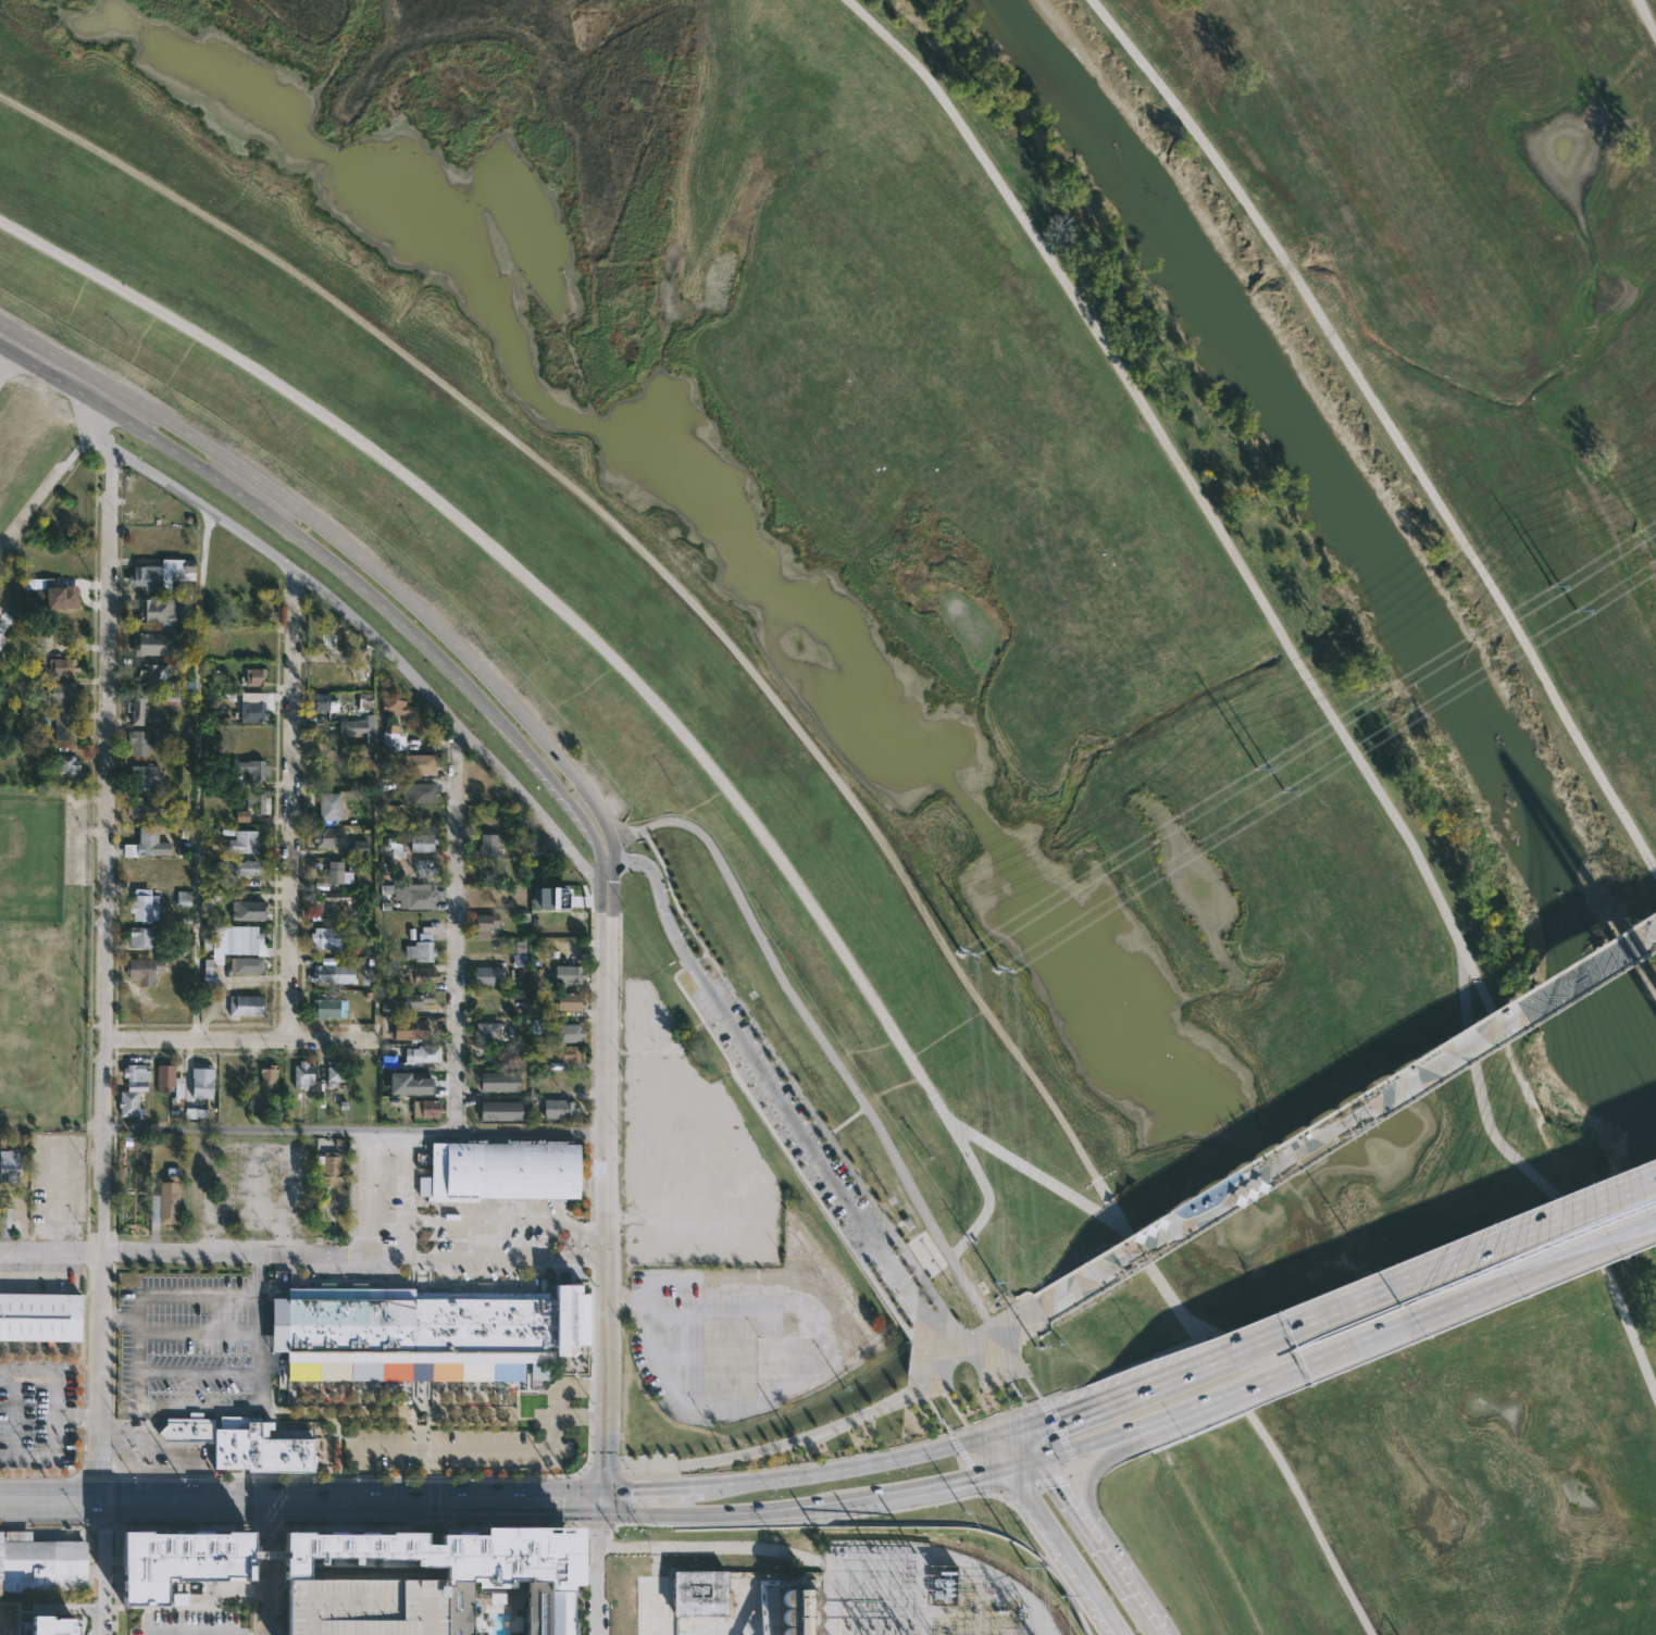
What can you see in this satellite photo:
road: (1644, 18)
road: (3, 342)
road: (108, 411)
road: (1383, 427)
road: (103, 439)
road: (47, 489)
road: (251, 490)
road: (241, 496)
road: (282, 499)
building: (140, 513)
river: (1341, 529)
road: (640, 550)
building: (161, 574)
road: (535, 584)
power tower: (1549, 586)
building: (62, 599)
power tower: (1570, 609)
building: (157, 610)
building: (2, 638)
park: (1047, 639)
building: (151, 644)
building: (254, 644)
road: (379, 644)
building: (61, 666)
road: (1302, 666)
building: (328, 673)
building: (153, 674)
building: (252, 676)
building: (61, 694)
building: (173, 697)
building: (316, 701)
building: (396, 703)
building: (135, 710)
building: (251, 711)
building: (61, 724)
building: (360, 726)
building: (171, 732)
building: (389, 736)
building: (139, 742)
road: (527, 750)
building: (63, 764)
building: (415, 764)
power tower: (1263, 766)
building: (250, 769)
road: (564, 770)
building: (142, 774)
road: (198, 775)
power tower: (1283, 788)
building: (420, 792)
building: (485, 794)
building: (256, 802)
road: (289, 803)
building: (328, 806)
building: (140, 808)
building: (242, 815)
building: (324, 837)
road: (602, 839)
building: (146, 840)
building: (241, 841)
building: (421, 841)
building: (488, 845)
building: (360, 848)
park: (29, 859)
building: (425, 866)
building: (234, 868)
building: (140, 871)
building: (337, 872)
road: (606, 874)
road: (455, 885)
building: (419, 896)
building: (550, 897)
building: (326, 899)
building: (142, 906)
building: (246, 910)
building: (483, 924)
building: (324, 937)
building: (141, 939)
building: (237, 941)
building: (420, 948)
park: (42, 956)
power tower: (962, 956)
building: (245, 964)
power tower: (998, 965)
building: (147, 969)
building: (346, 970)
road: (105, 972)
building: (568, 974)
building: (484, 975)
building: (420, 976)
building: (407, 1000)
building: (568, 1001)
building: (245, 1006)
building: (324, 1008)
building: (537, 1026)
building: (407, 1029)
building: (485, 1032)
road: (814, 1032)
building: (569, 1033)
road: (237, 1038)
road: (739, 1041)
building: (571, 1054)
building: (418, 1056)
building: (510, 1056)
building: (134, 1073)
road: (602, 1074)
river: (1653, 1074)
building: (302, 1076)
building: (266, 1077)
building: (335, 1077)
building: (201, 1082)
building: (498, 1082)
building: (169, 1086)
building: (410, 1086)
road: (457, 1089)
building: (129, 1100)
building: (561, 1108)
building: (424, 1109)
building: (499, 1111)
road: (1347, 1114)
parking lot: (790, 1115)
road: (352, 1131)
road: (959, 1143)
road: (388, 1145)
parking lot: (688, 1150)
building: (9, 1166)
building: (329, 1168)
building: (502, 1171)
road: (1033, 1174)
parking lot: (247, 1186)
parking lot: (382, 1189)
building: (164, 1202)
road: (655, 1214)
road: (1552, 1215)
building: (4, 1221)
road: (508, 1221)
road: (974, 1225)
park: (774, 1237)
road: (283, 1240)
road: (203, 1251)
road: (1145, 1257)
road: (506, 1258)
road: (1412, 1275)
power tower: (996, 1286)
road: (1473, 1288)
road: (178, 1294)
road: (823, 1295)
road: (1328, 1311)
road: (739, 1314)
road: (120, 1316)
building: (39, 1318)
road: (987, 1318)
building: (420, 1327)
road: (259, 1332)
parking lot: (724, 1341)
parking lot: (183, 1344)
power tower: (1034, 1347)
road: (138, 1351)
road: (656, 1351)
road: (749, 1356)
road: (1194, 1364)
road: (603, 1378)
road: (52, 1386)
road: (1212, 1398)
road: (1061, 1415)
traffic signals: (1056, 1418)
road: (972, 1426)
road: (1058, 1430)
road: (997, 1432)
road: (1121, 1435)
road: (1100, 1440)
building: (239, 1444)
road: (1022, 1445)
road: (1104, 1447)
road: (471, 1449)
parking lot: (457, 1450)
road: (1061, 1450)
road: (745, 1451)
road: (993, 1452)
road: (844, 1465)
road: (1018, 1465)
road: (38, 1475)
road: (98, 1475)
traffic signals: (969, 1480)
road: (349, 1481)
road: (1290, 1481)
road: (981, 1484)
road: (935, 1487)
traffic signals: (1049, 1487)
road: (680, 1493)
road: (247, 1496)
road: (547, 1498)
traffic signals: (600, 1498)
road: (627, 1498)
road: (811, 1503)
road: (706, 1513)
road: (707, 1548)
road: (1116, 1548)
road: (1088, 1549)
road: (1060, 1552)
building: (41, 1562)
building: (179, 1562)
building: (461, 1563)
road: (105, 1565)
road: (265, 1565)
road: (597, 1565)
power tower: (1026, 1570)
road: (222, 1586)
power substation: (919, 1592)
building: (698, 1594)
power tower: (1058, 1596)
building: (179, 1599)
building: (365, 1603)
parking lot: (365, 1603)
building: (495, 1609)
building: (798, 1611)
parking lot: (189, 1624)
building: (51, 1626)

